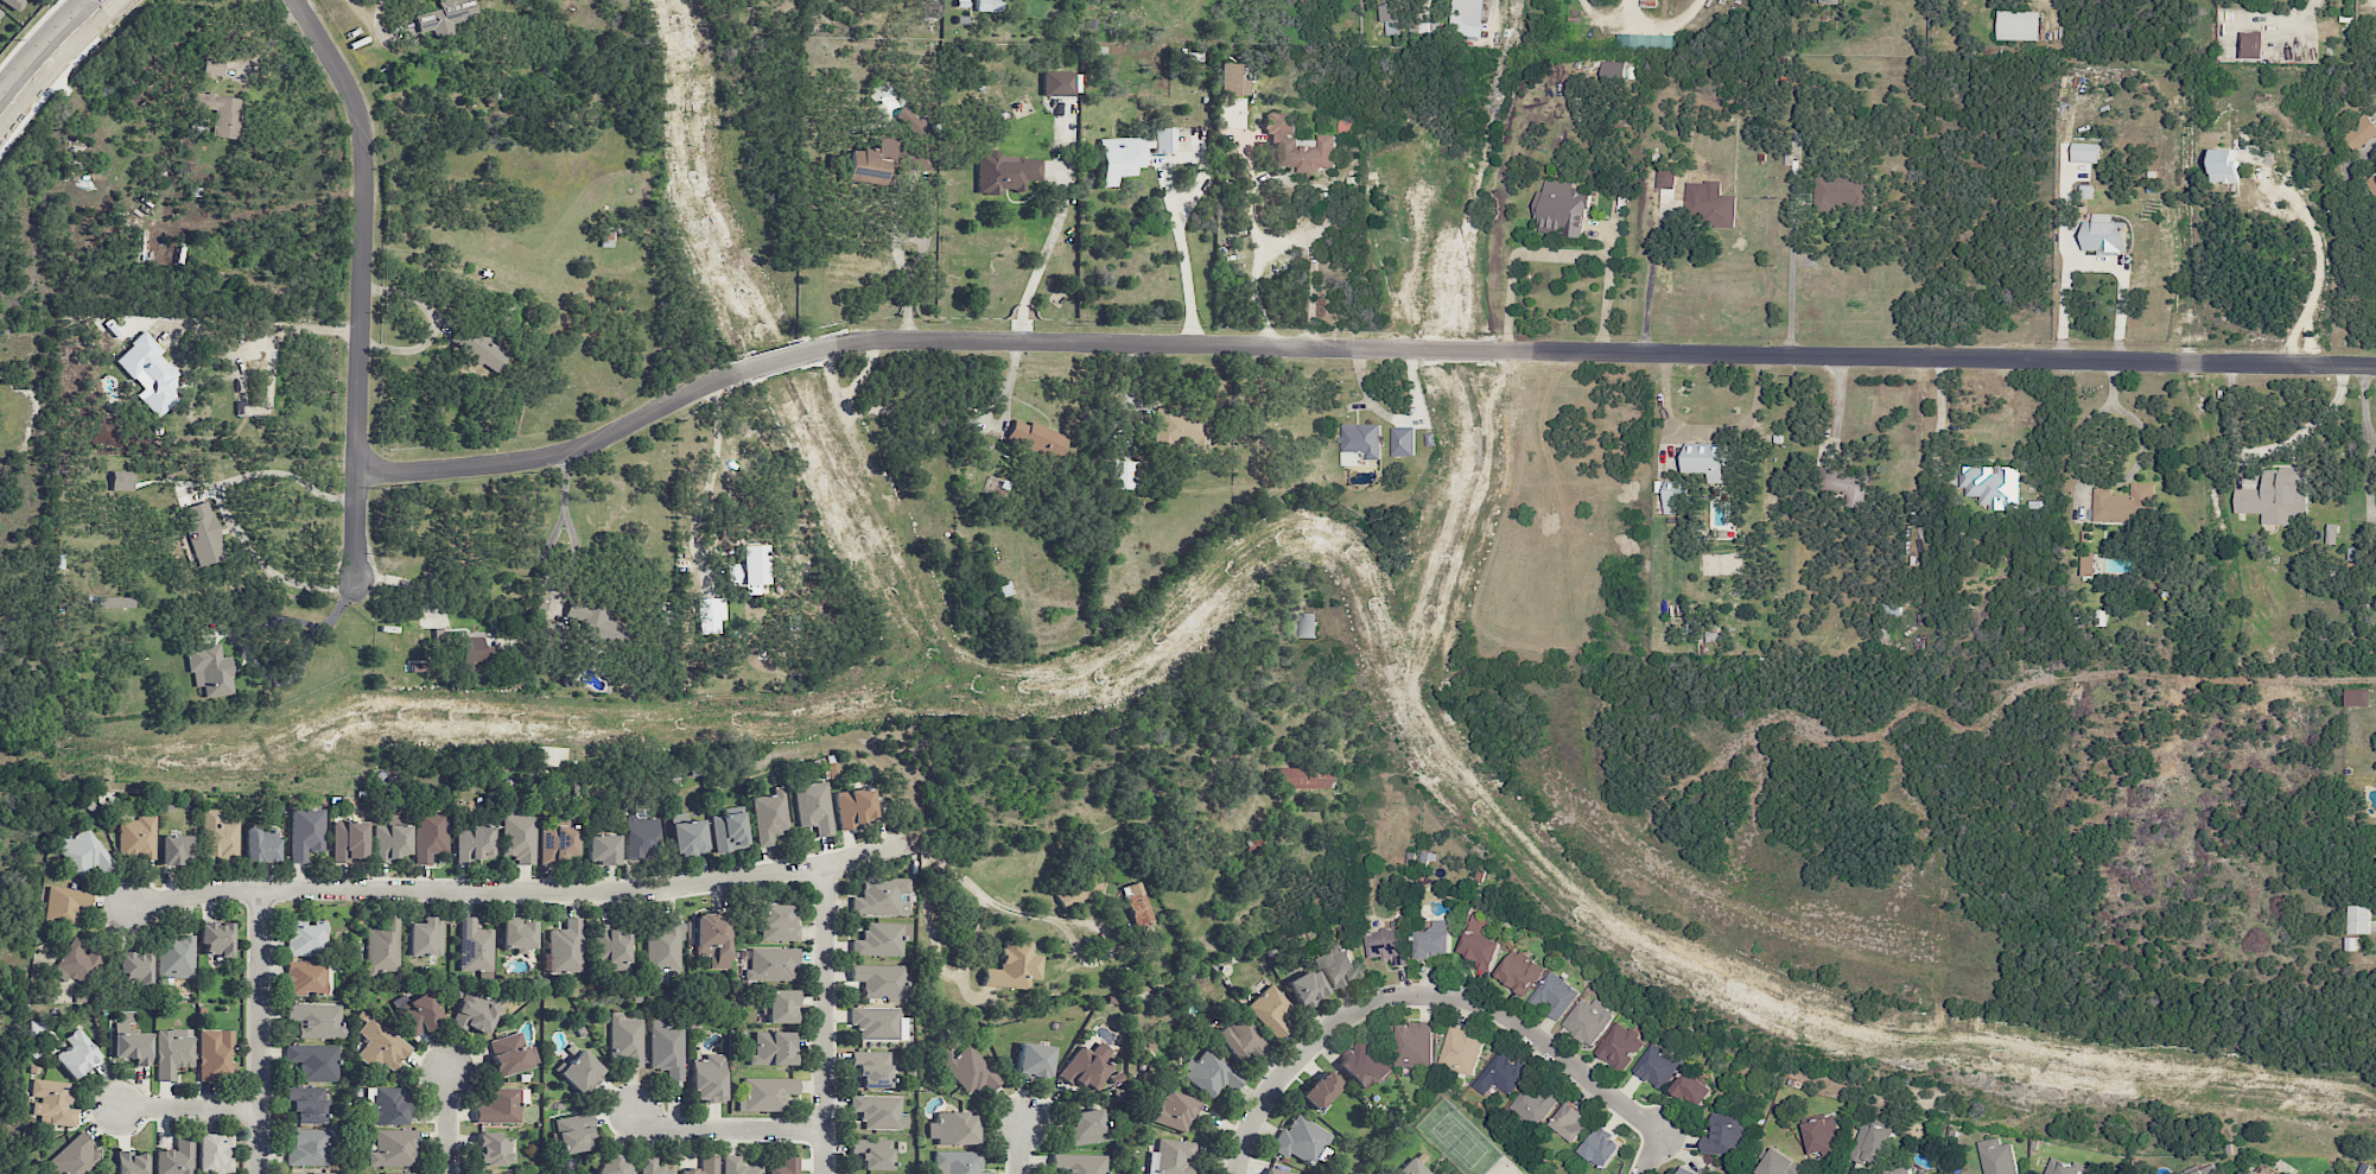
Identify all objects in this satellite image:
building: (13, 2)
building: (1648, 2)
building: (987, 5)
building: (0, 13)
building: (1468, 14)
building: (445, 17)
road: (377, 18)
building: (1392, 19)
road: (1658, 25)
building: (2019, 25)
building: (1429, 26)
road: (271, 40)
building: (1645, 42)
building: (2250, 44)
road: (52, 58)
building: (212, 66)
building: (1613, 72)
building: (1232, 81)
building: (1057, 83)
building: (221, 113)
building: (910, 121)
building: (2361, 132)
building: (1163, 139)
building: (1283, 140)
building: (2084, 152)
building: (1120, 158)
building: (919, 159)
building: (870, 164)
building: (2224, 165)
building: (1006, 172)
road: (1282, 179)
building: (2371, 184)
building: (1842, 191)
building: (1563, 208)
building: (1713, 209)
building: (2103, 234)
road: (1284, 242)
road: (1512, 255)
road: (1183, 256)
road: (898, 261)
road: (1041, 262)
road: (361, 277)
road: (1648, 280)
road: (1790, 286)
road: (1607, 290)
road: (294, 328)
road: (1355, 349)
building: (485, 351)
building: (150, 374)
road: (1005, 410)
road: (1939, 421)
building: (1182, 427)
building: (1037, 439)
building: (1403, 440)
building: (1359, 443)
building: (1707, 459)
road: (710, 471)
road: (2126, 472)
building: (1124, 475)
building: (121, 481)
building: (1847, 486)
building: (1990, 486)
building: (1675, 495)
building: (2276, 497)
building: (2123, 503)
road: (223, 509)
building: (203, 533)
building: (2330, 533)
road: (540, 564)
building: (2086, 564)
building: (749, 569)
building: (115, 602)
building: (541, 603)
building: (2099, 617)
building: (595, 621)
building: (1308, 624)
road: (243, 632)
building: (552, 635)
building: (472, 647)
building: (209, 670)
road: (2367, 679)
building: (2357, 697)
building: (1302, 778)
building: (813, 806)
building: (855, 807)
building: (769, 817)
building: (729, 830)
building: (430, 832)
building: (306, 833)
building: (218, 835)
building: (517, 835)
building: (138, 837)
building: (639, 837)
building: (687, 838)
building: (349, 840)
building: (390, 842)
building: (474, 843)
building: (261, 844)
building: (557, 844)
building: (602, 849)
building: (176, 850)
building: (84, 852)
road: (523, 891)
building: (881, 896)
building: (65, 903)
building: (1137, 906)
road: (1047, 918)
building: (2358, 919)
building: (777, 924)
road: (930, 928)
building: (517, 934)
building: (425, 937)
building: (216, 938)
building: (306, 938)
building: (712, 938)
building: (881, 939)
building: (1434, 939)
building: (1479, 941)
building: (1389, 945)
park: (4, 946)
building: (474, 946)
building: (382, 947)
building: (565, 947)
building: (663, 947)
building: (611, 948)
building: (176, 956)
building: (78, 963)
building: (773, 964)
building: (1338, 965)
building: (1014, 966)
building: (135, 967)
building: (1519, 971)
building: (306, 978)
building: (879, 981)
building: (1307, 988)
road: (1448, 994)
building: (1554, 995)
building: (782, 1007)
building: (1270, 1010)
building: (476, 1011)
building: (418, 1014)
road: (826, 1020)
building: (1588, 1020)
building: (316, 1021)
building: (876, 1022)
road: (260, 1033)
building: (1241, 1037)
building: (132, 1041)
building: (624, 1041)
building: (1412, 1045)
building: (1620, 1045)
building: (381, 1046)
building: (666, 1048)
building: (773, 1048)
building: (1460, 1051)
building: (173, 1052)
building: (76, 1054)
building: (215, 1054)
building: (510, 1054)
building: (1034, 1060)
building: (313, 1061)
building: (1364, 1065)
building: (1087, 1066)
building: (1657, 1066)
building: (871, 1070)
building: (970, 1070)
building: (580, 1072)
building: (1211, 1073)
building: (1501, 1073)
building: (707, 1078)
building: (1692, 1089)
building: (1321, 1090)
building: (765, 1093)
building: (52, 1102)
building: (1533, 1102)
building: (306, 1104)
building: (388, 1105)
building: (500, 1108)
road: (191, 1110)
building: (1173, 1110)
building: (879, 1111)
building: (1571, 1121)
road: (449, 1124)
building: (1086, 1127)
building: (953, 1128)
road: (726, 1130)
building: (573, 1134)
building: (1723, 1135)
building: (1822, 1136)
building: (1301, 1140)
building: (1872, 1143)
building: (309, 1147)
building: (1601, 1147)
building: (393, 1148)
road: (1021, 1148)
building: (493, 1149)
building: (214, 1153)
building: (871, 1153)
building: (177, 1156)
building: (1996, 1156)
building: (74, 1157)
building: (1171, 1157)
building: (131, 1162)
building: (958, 1162)
building: (1079, 1163)
building: (615, 1165)
building: (1781, 1165)
building: (653, 1166)
building: (737, 1166)
building: (784, 1167)
building: (2060, 1167)
building: (1412, 1168)
building: (2205, 1169)
building: (1277, 1170)
building: (1899, 1170)
building: (2256, 1170)
building: (1688, 1172)
building: (305, 1173)
building: (396, 1173)
building: (488, 1173)

